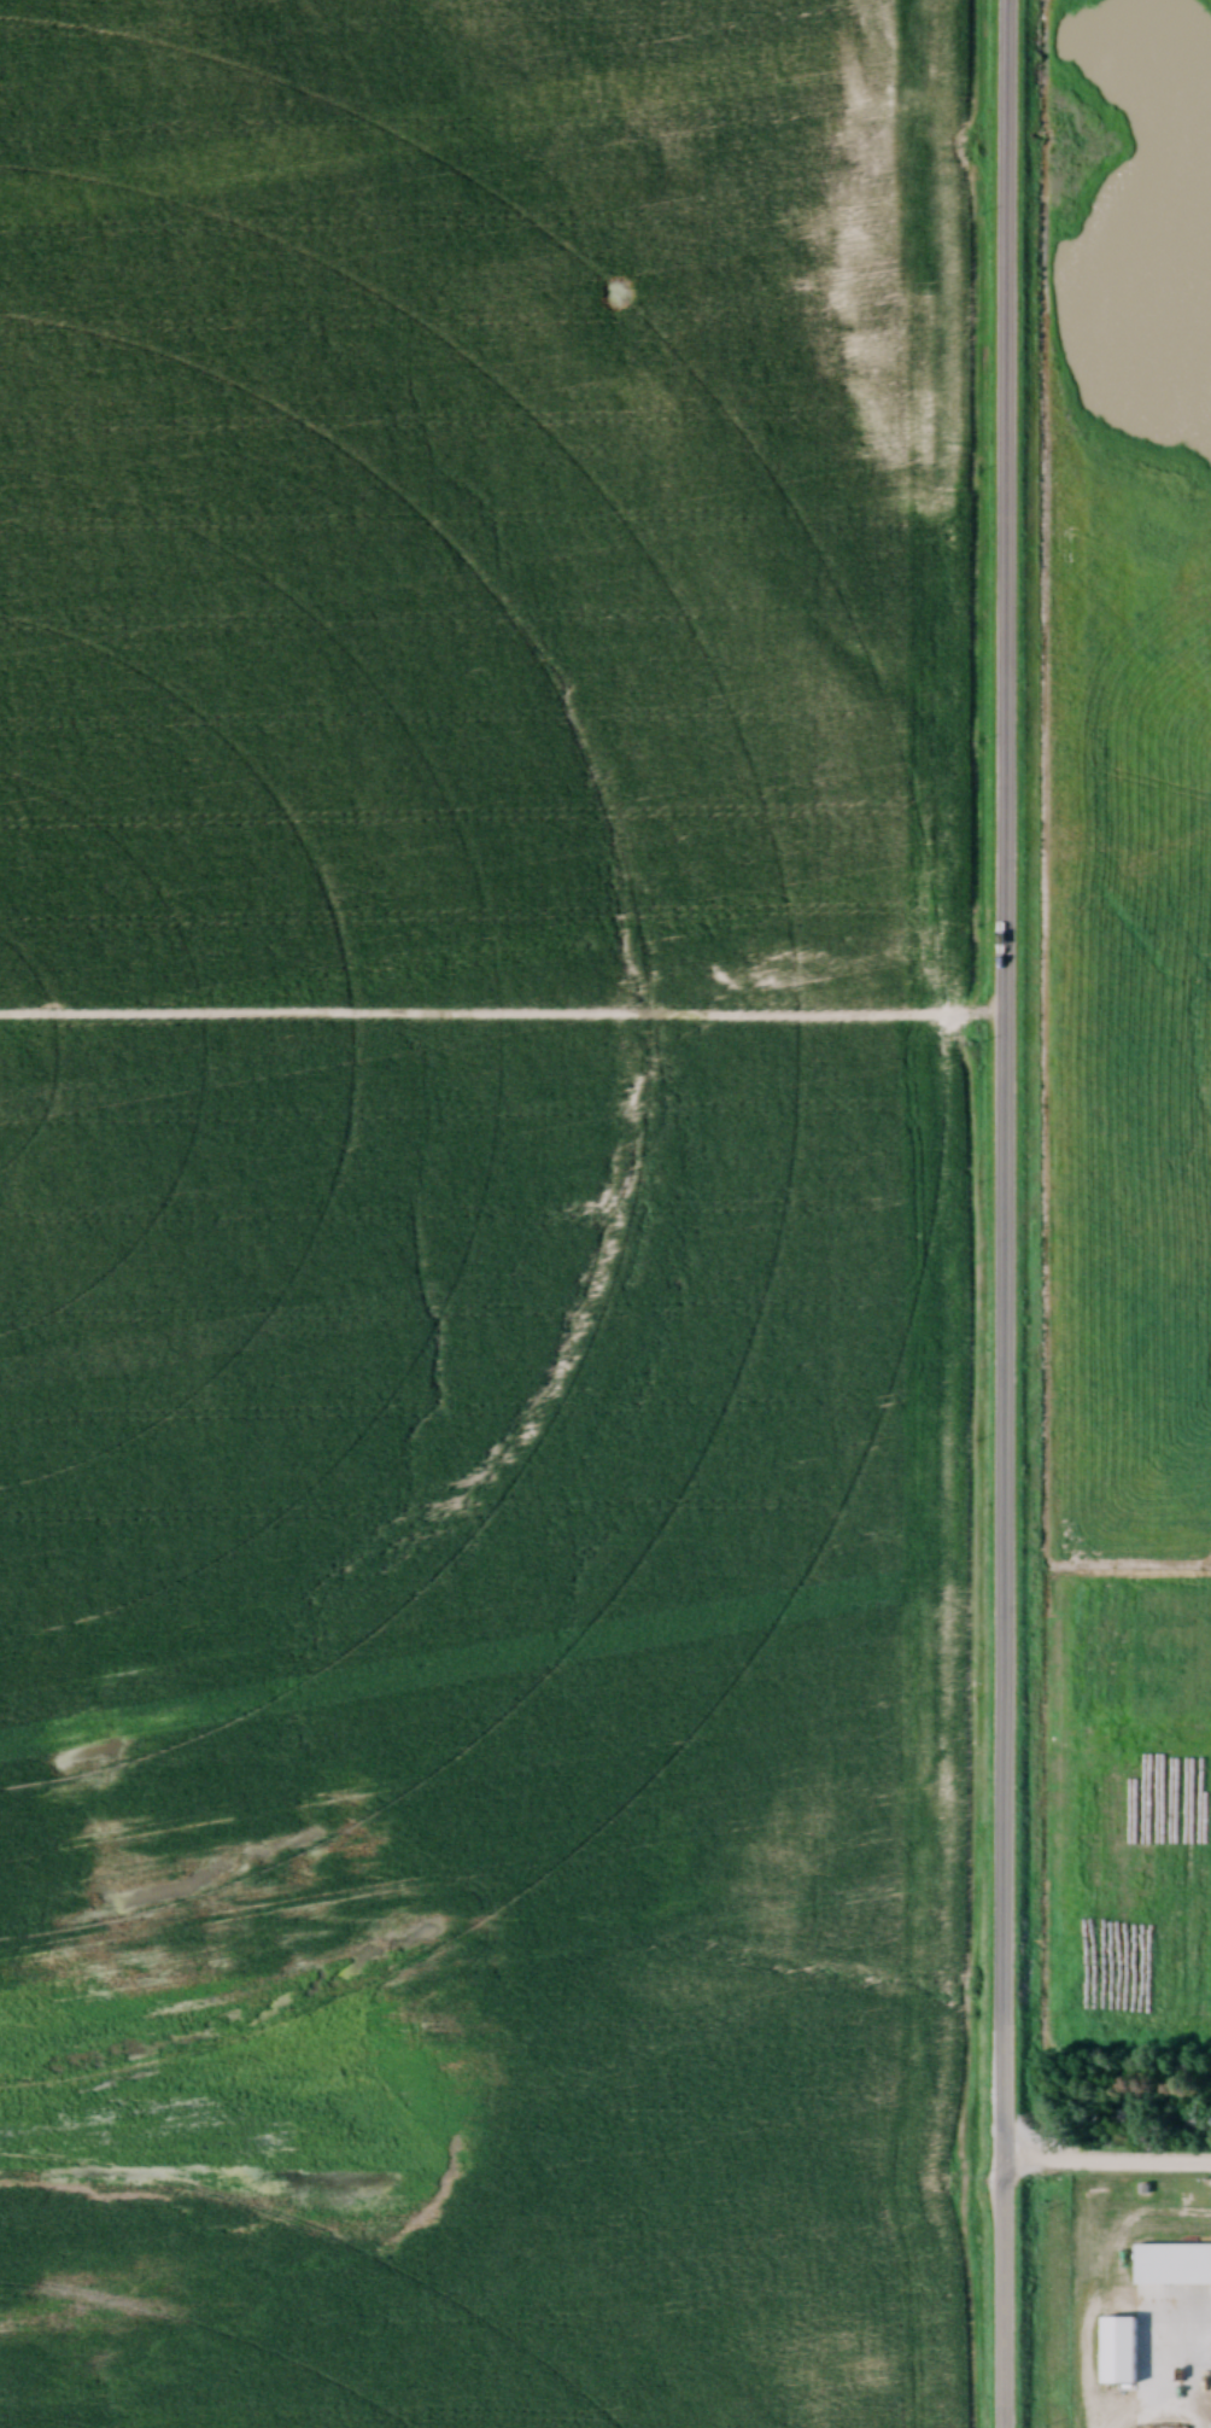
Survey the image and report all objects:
road: (1007, 1214)
road: (1108, 2159)

